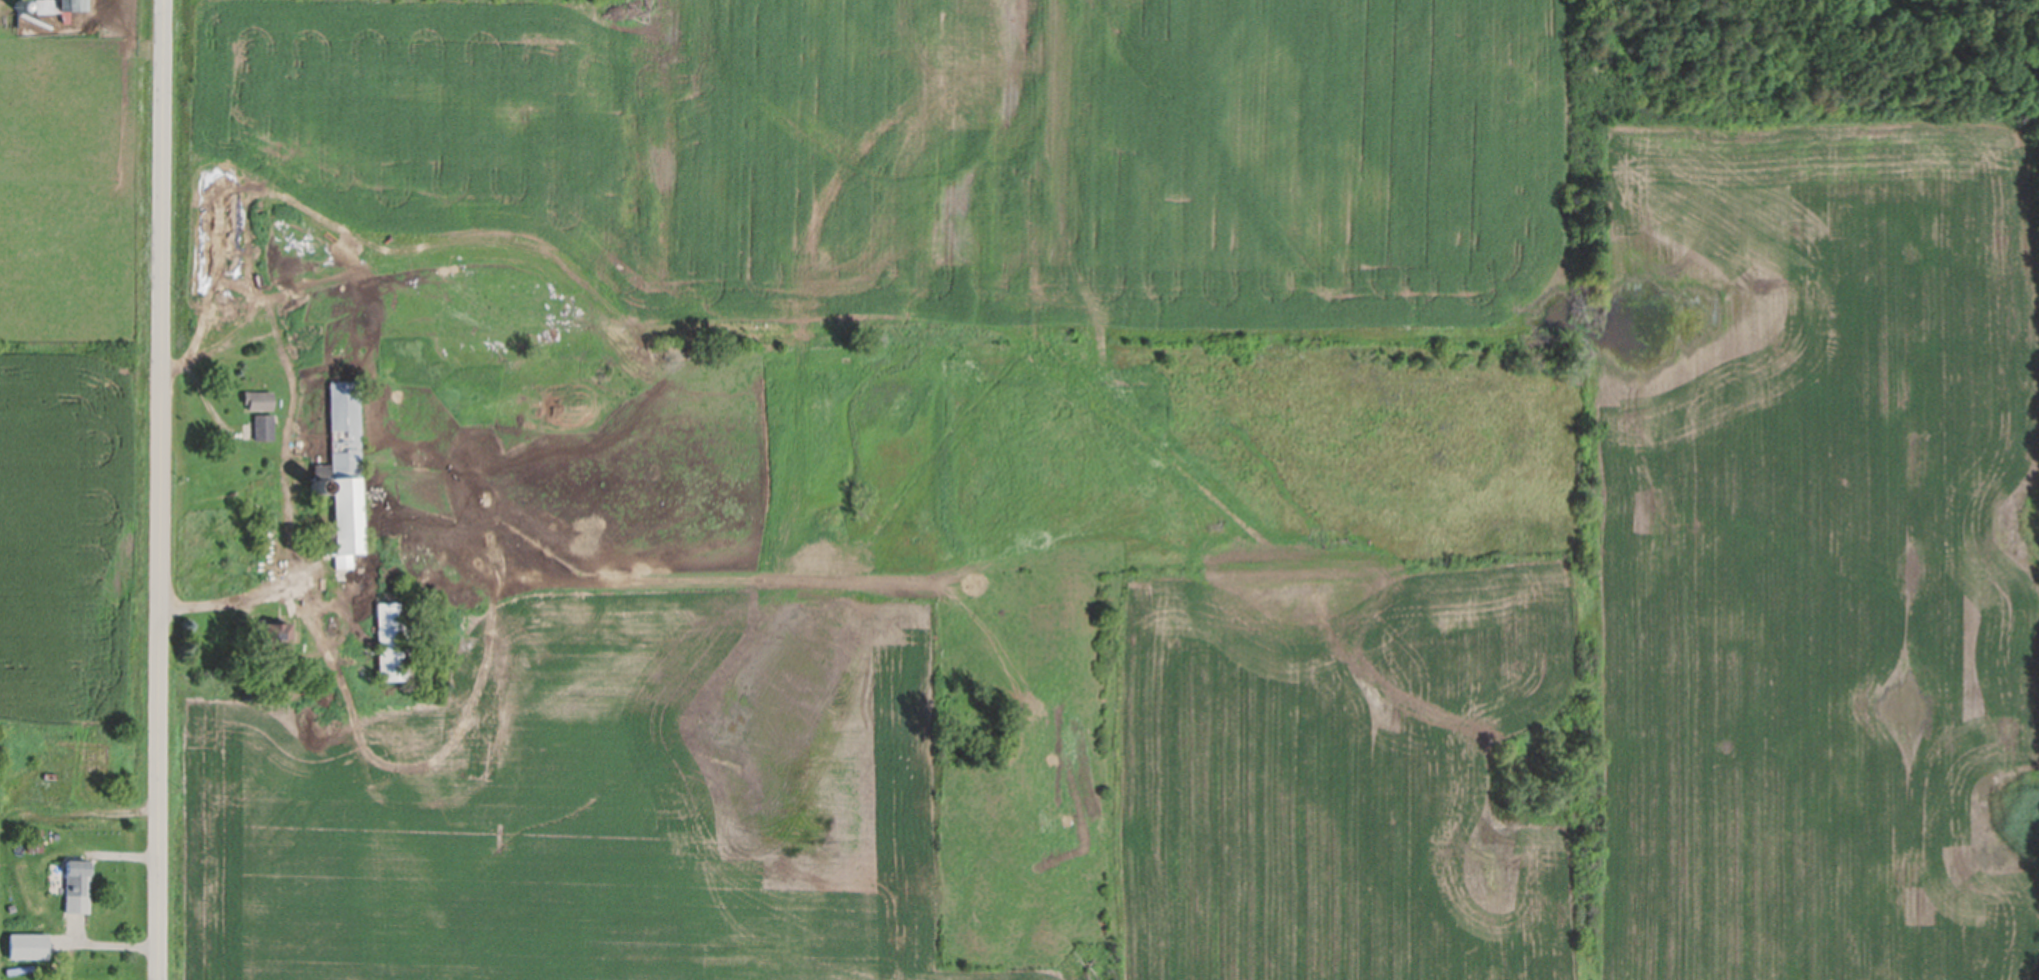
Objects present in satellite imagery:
building: (73, 3)
building: (21, 5)
building: (258, 399)
road: (302, 425)
building: (263, 426)
building: (343, 472)
building: (318, 486)
road: (161, 489)
building: (275, 635)
building: (393, 640)
building: (34, 840)
building: (76, 886)
road: (110, 947)

